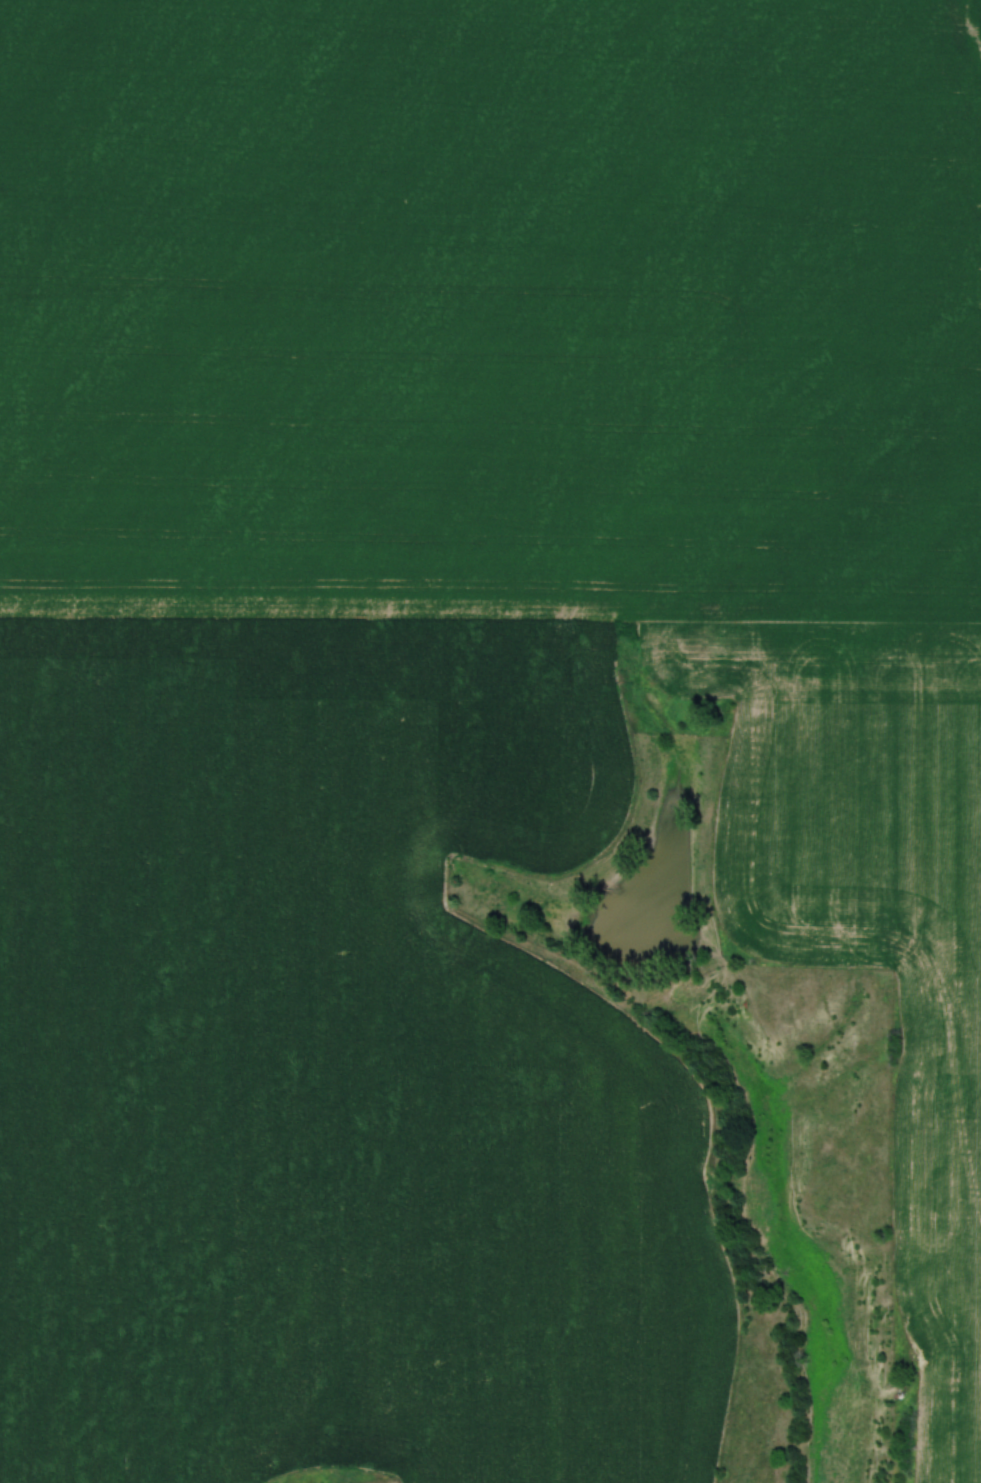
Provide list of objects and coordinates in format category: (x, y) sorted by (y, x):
crop: (490, 308)

